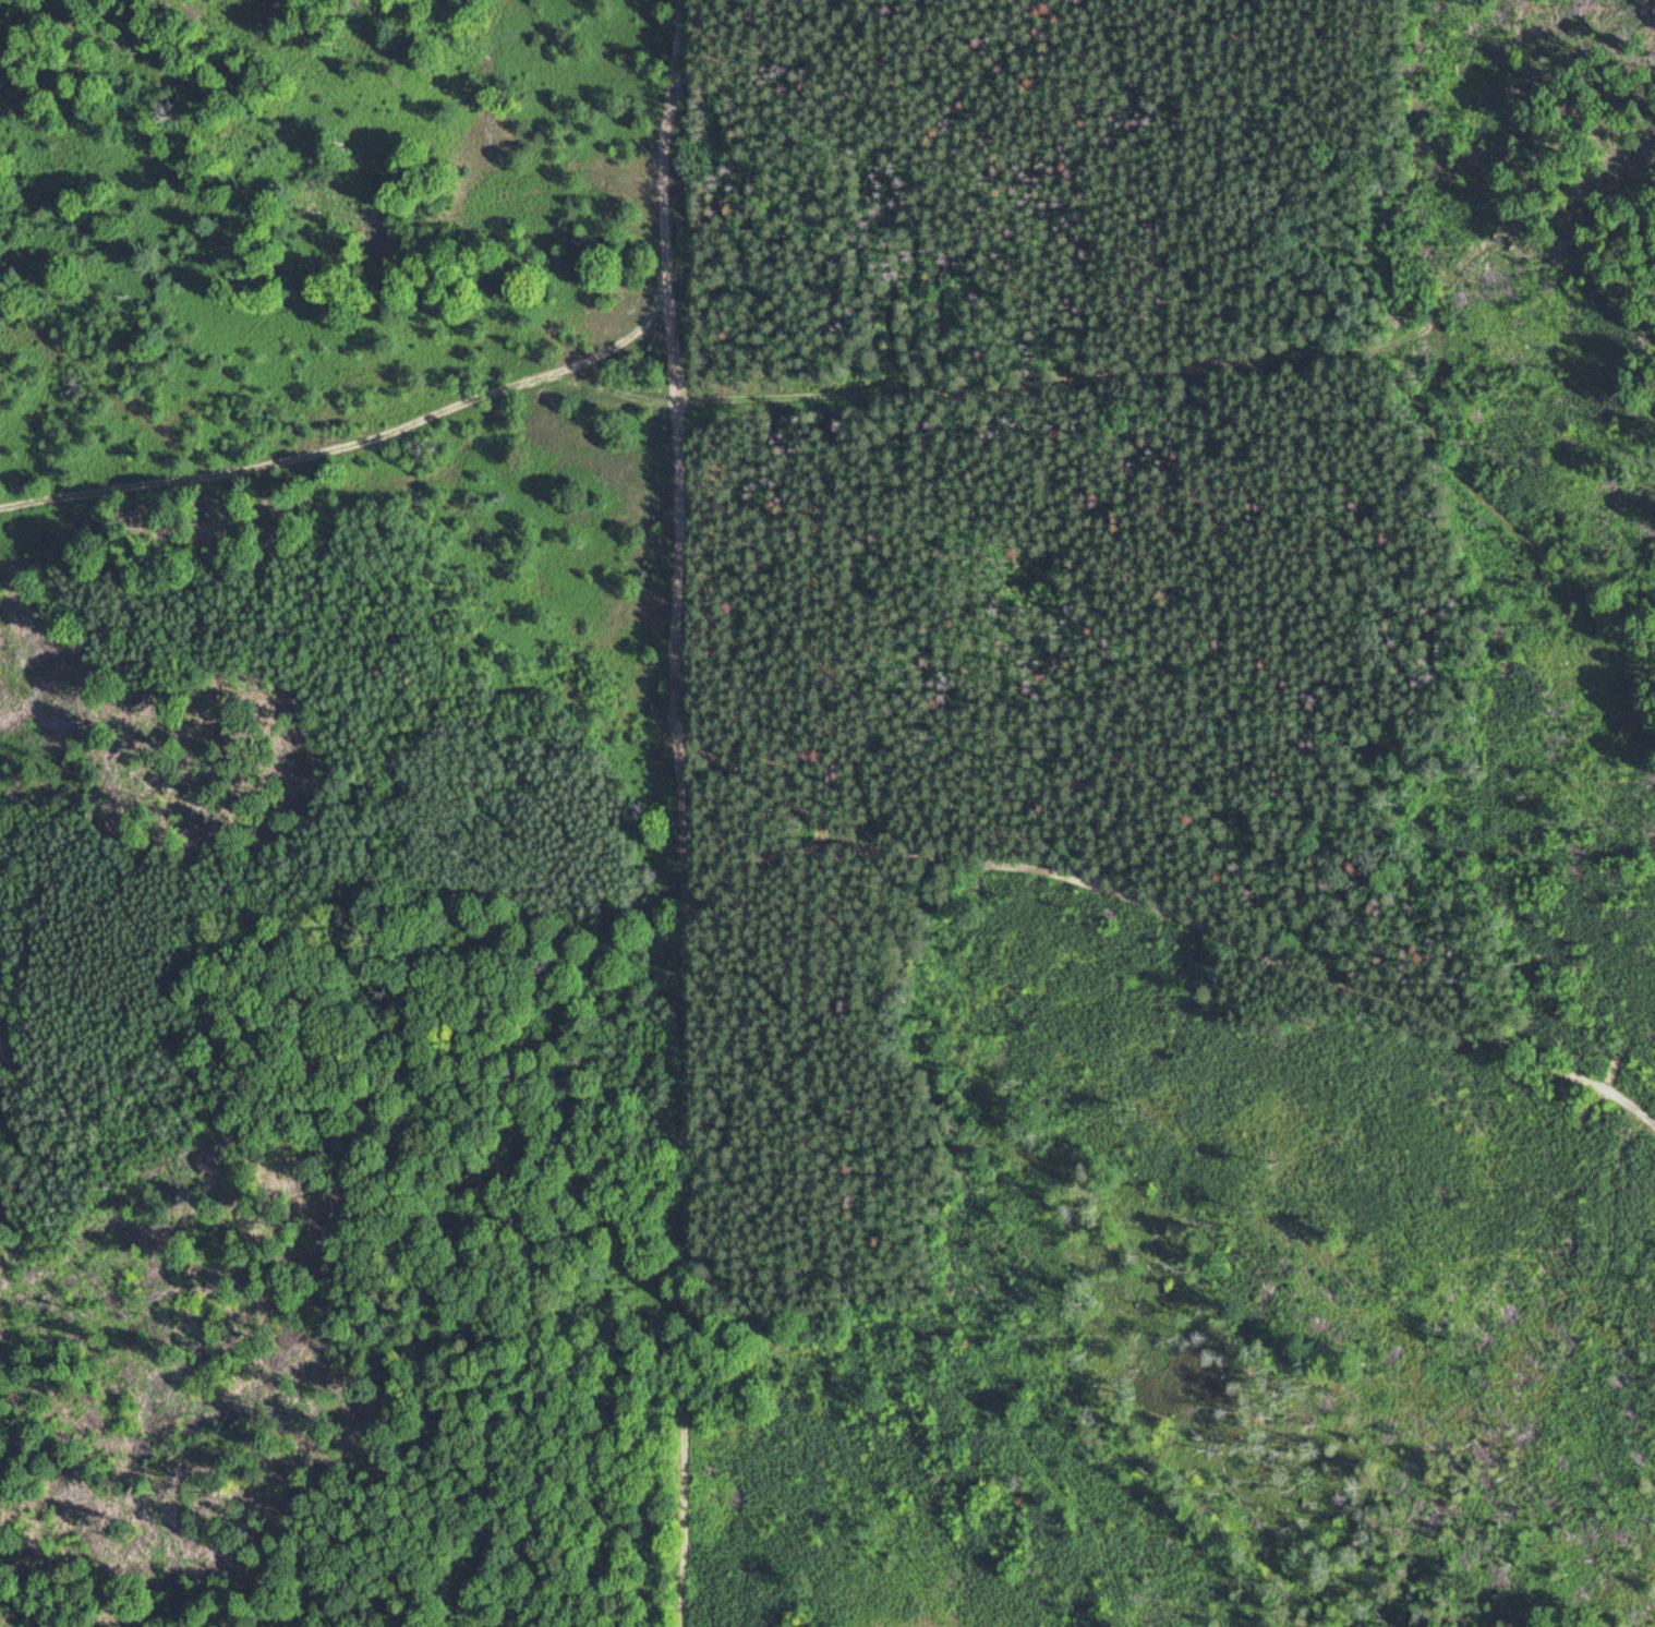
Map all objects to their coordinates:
road: (350, 447)
road: (671, 812)
road: (1168, 915)

